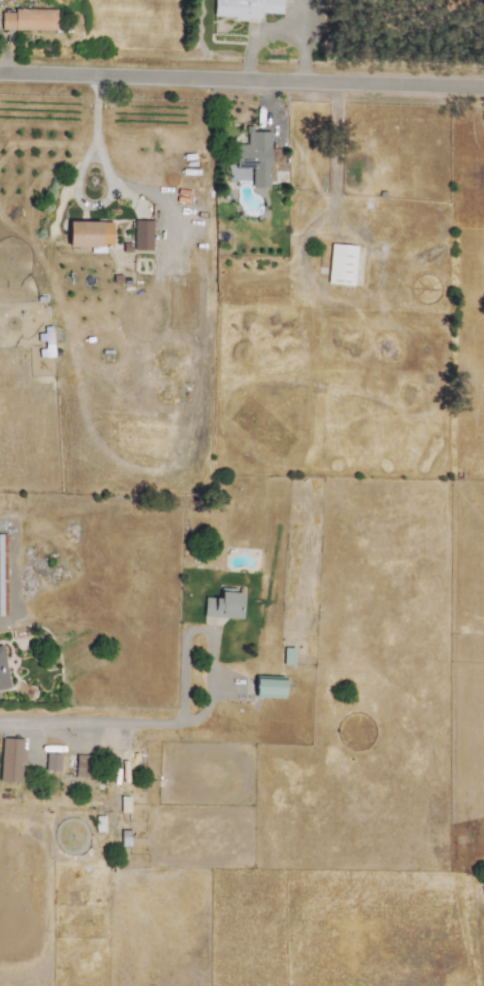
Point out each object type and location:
building: (244, 8)
building: (29, 19)
road: (301, 21)
road: (277, 31)
road: (241, 79)
road: (93, 133)
building: (254, 157)
building: (89, 233)
building: (141, 234)
road: (293, 257)
building: (340, 264)
building: (2, 576)
building: (224, 604)
road: (79, 622)
road: (204, 629)
building: (2, 671)
building: (268, 687)
road: (91, 721)
building: (10, 759)
building: (51, 761)
building: (82, 765)

